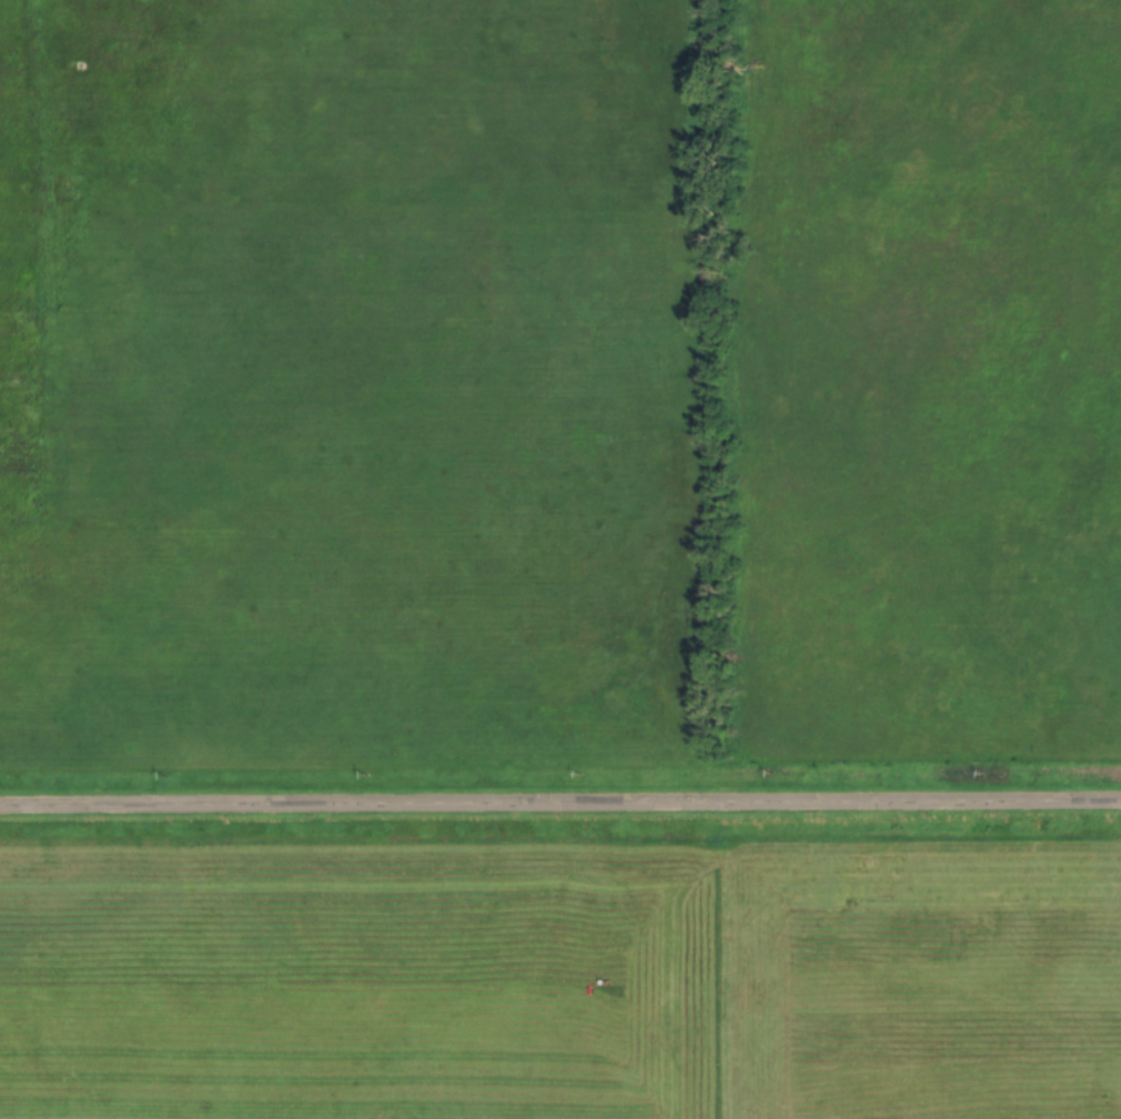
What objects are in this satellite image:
road: (560, 810)

